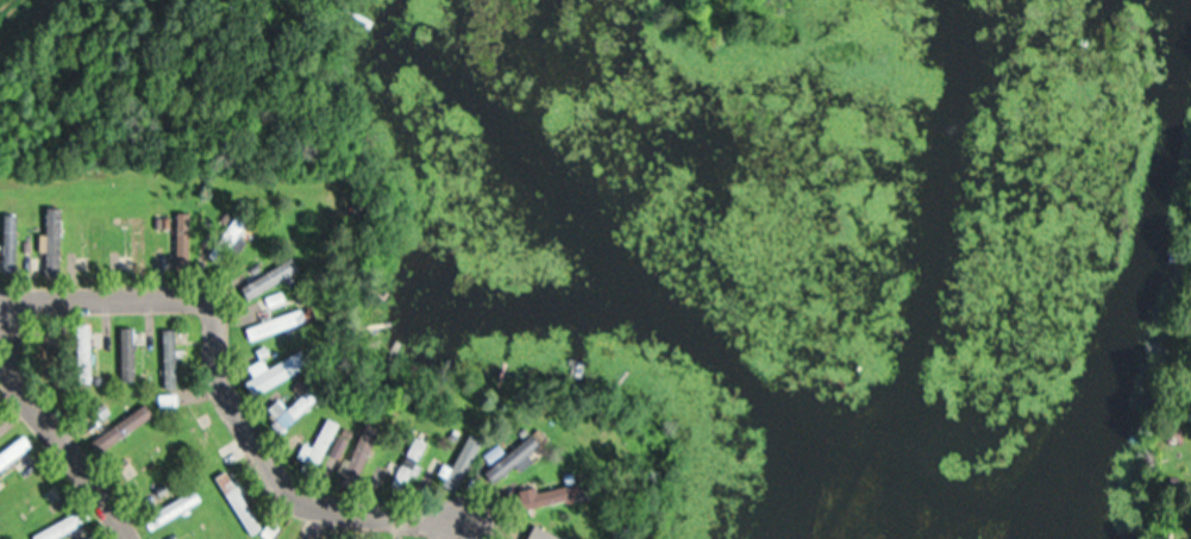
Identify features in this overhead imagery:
road: (214, 324)
building: (280, 324)
building: (130, 352)
building: (45, 353)
building: (171, 357)
building: (281, 370)
road: (48, 425)
building: (127, 426)
building: (206, 435)
building: (324, 441)
building: (470, 450)
building: (17, 452)
building: (365, 452)
building: (413, 462)
building: (503, 469)
building: (152, 470)
building: (544, 496)
building: (65, 526)
road: (438, 538)

